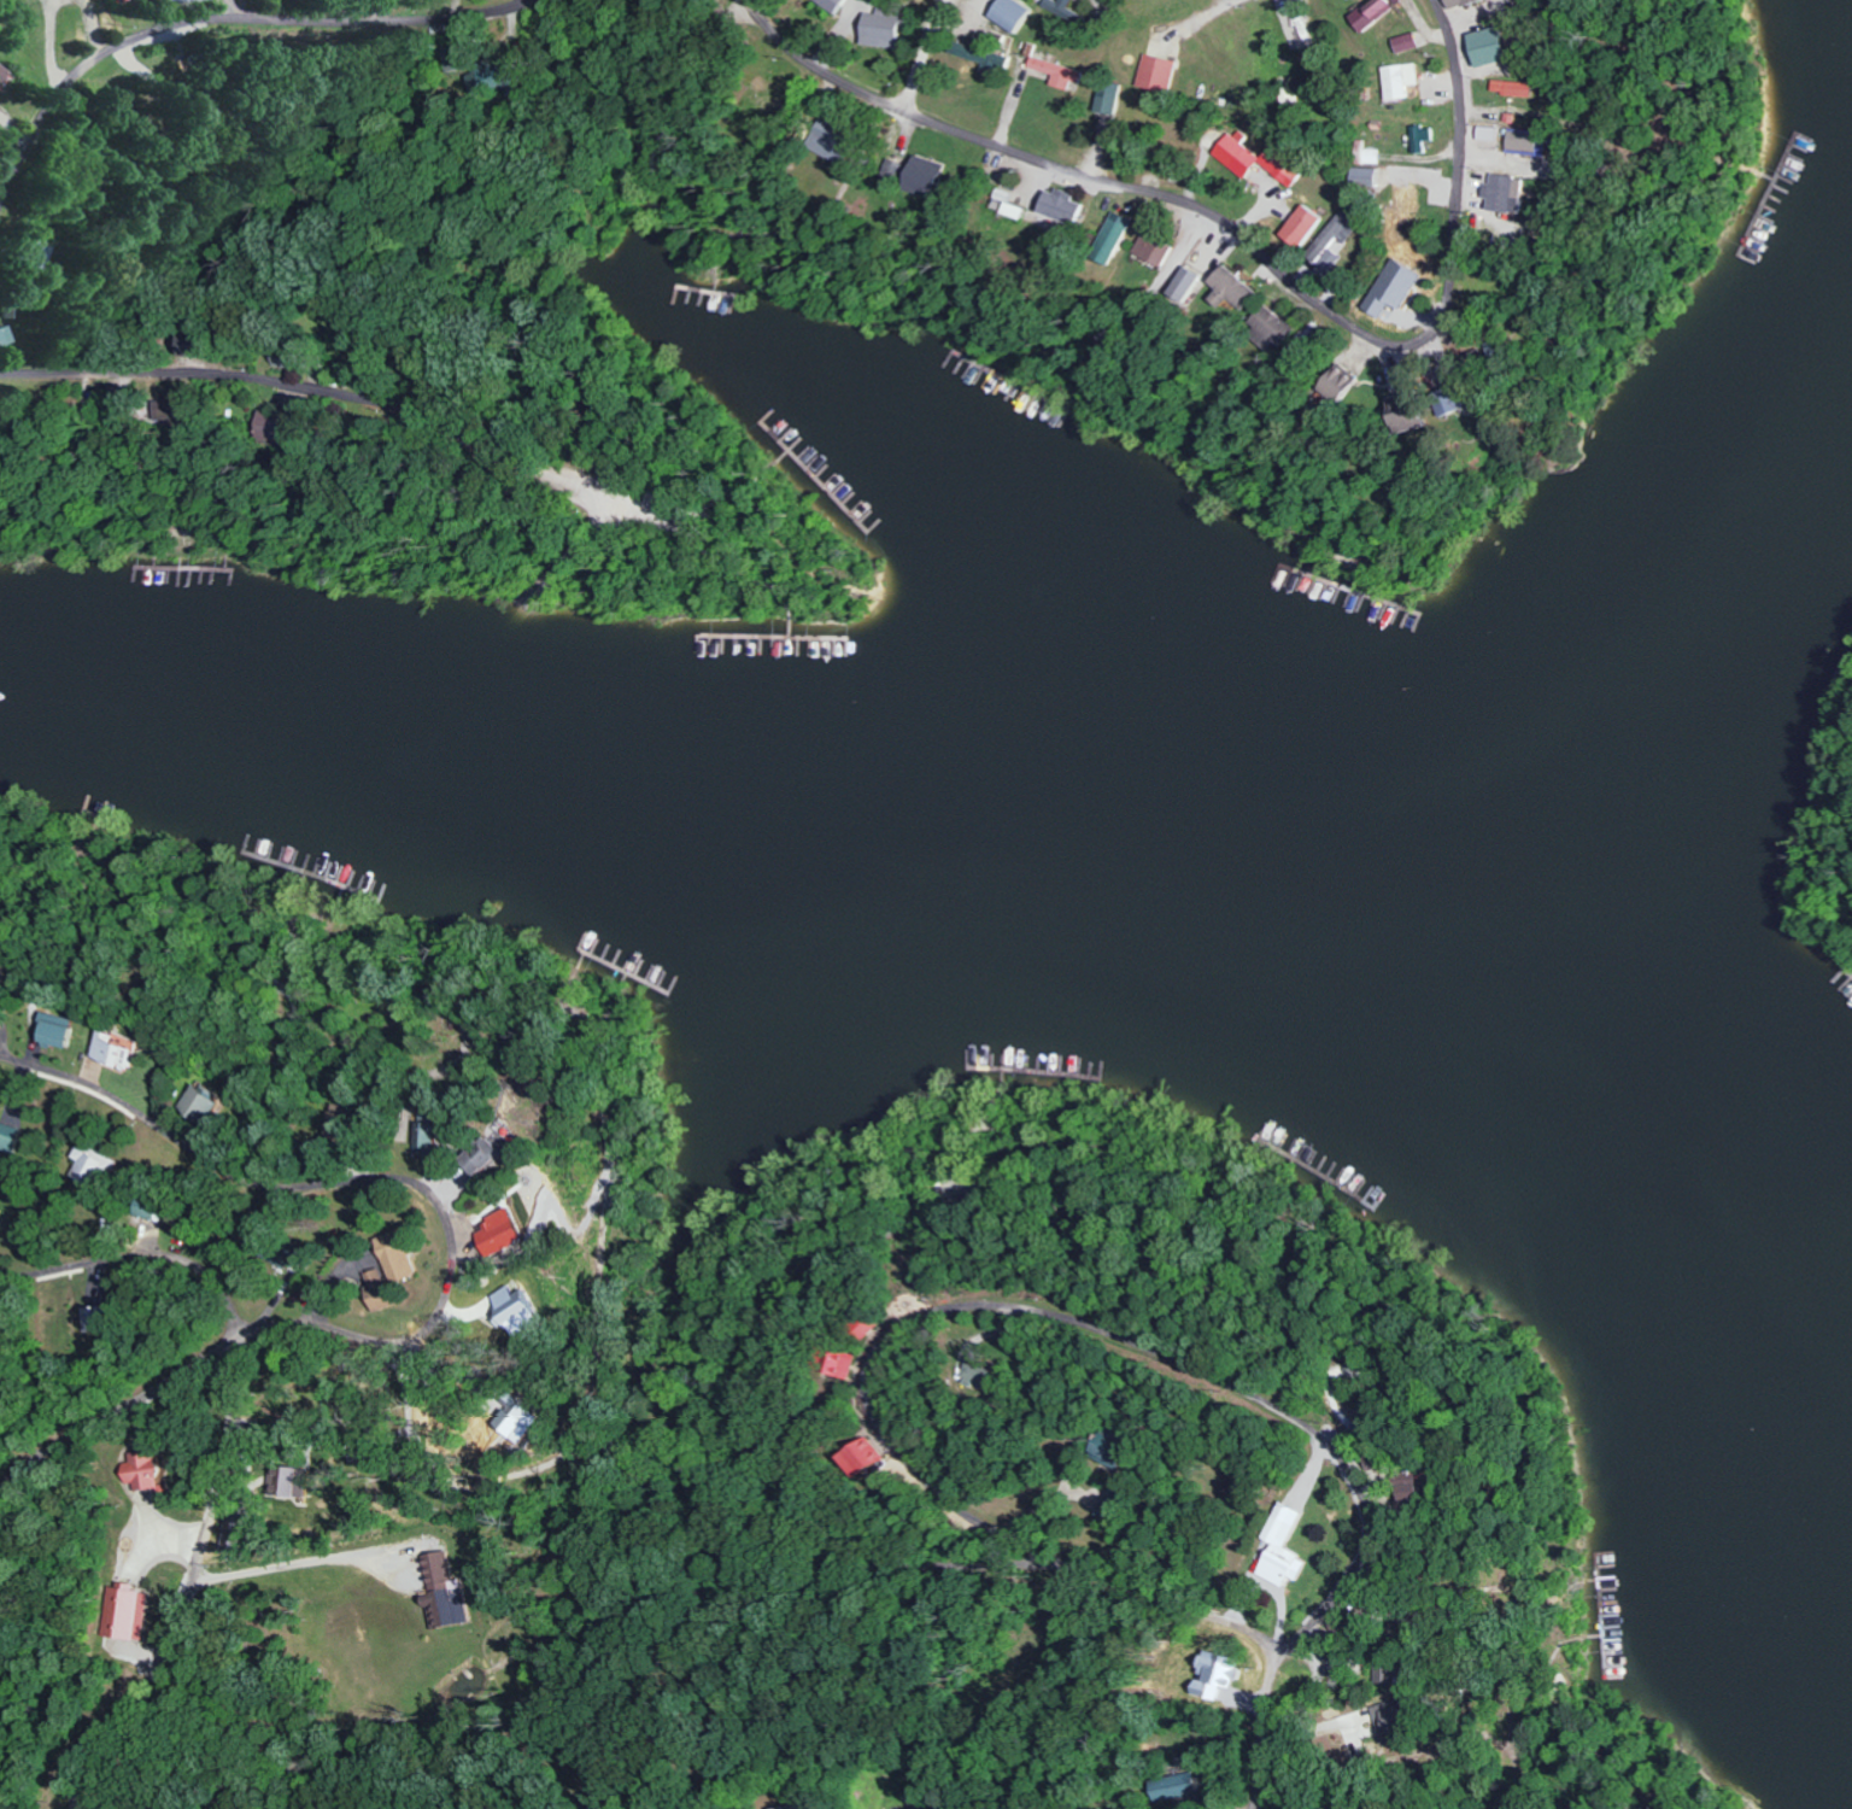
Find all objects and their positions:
building: (168, 1)
building: (1464, 4)
building: (830, 5)
building: (1061, 12)
building: (1008, 13)
building: (1375, 13)
road: (1113, 14)
road: (229, 16)
building: (878, 30)
building: (1409, 43)
building: (1491, 48)
road: (918, 55)
building: (980, 55)
building: (1, 70)
building: (1054, 72)
building: (482, 75)
building: (1154, 75)
building: (1401, 81)
building: (1516, 88)
building: (1106, 98)
building: (1488, 134)
building: (1422, 137)
building: (826, 142)
building: (1524, 142)
building: (1367, 154)
building: (1235, 156)
building: (1282, 164)
building: (891, 172)
building: (921, 177)
building: (1365, 178)
building: (1504, 194)
building: (1001, 195)
building: (1401, 203)
building: (1057, 206)
building: (1300, 226)
building: (1108, 239)
building: (1332, 241)
road: (1246, 245)
building: (1149, 251)
building: (31, 252)
building: (1182, 285)
building: (1230, 288)
building: (1268, 328)
building: (6, 336)
building: (192, 346)
road: (300, 379)
building: (1334, 385)
building: (1447, 402)
building: (159, 411)
building: (1403, 417)
building: (269, 428)
road: (733, 485)
road: (664, 510)
road: (620, 515)
parking lot: (679, 539)
building: (57, 1030)
building: (117, 1050)
building: (203, 1106)
building: (511, 1131)
building: (429, 1135)
building: (8, 1137)
building: (485, 1157)
building: (90, 1163)
building: (150, 1207)
building: (500, 1233)
building: (389, 1268)
building: (517, 1312)
building: (95, 1318)
road: (1123, 1324)
building: (850, 1364)
building: (978, 1375)
building: (516, 1419)
building: (1109, 1451)
building: (866, 1457)
building: (142, 1470)
building: (293, 1482)
building: (274, 1483)
building: (1416, 1493)
building: (1283, 1547)
building: (447, 1593)
building: (125, 1614)
building: (1214, 1674)
building: (1397, 1721)
road: (1278, 1740)
building: (1180, 1787)
building: (808, 1804)

